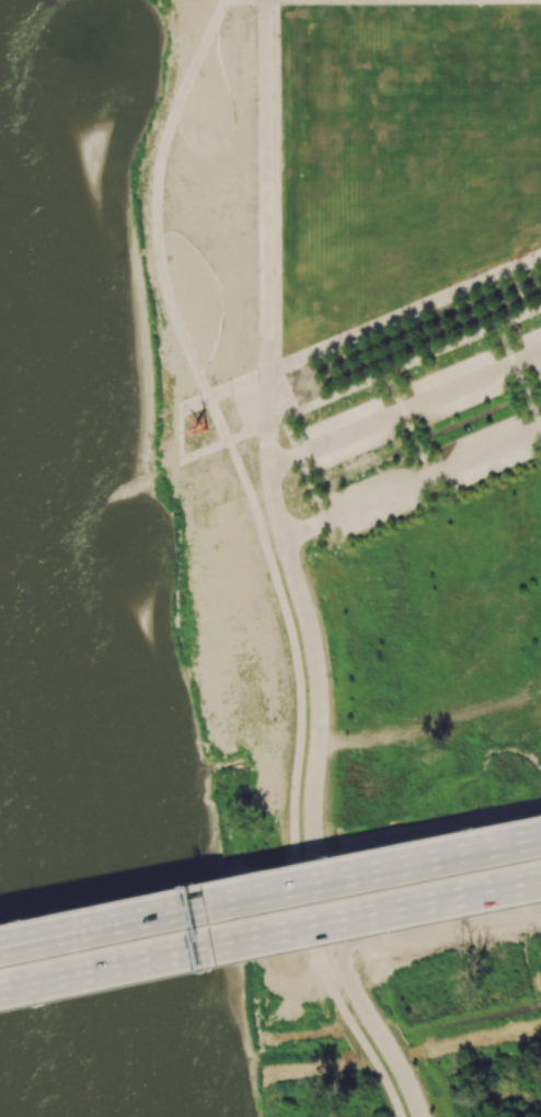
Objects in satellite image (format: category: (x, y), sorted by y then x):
street lamp: (533, 267)
street lamp: (513, 276)
park: (349, 282)
street lamp: (451, 303)
street lamp: (495, 310)
street lamp: (422, 315)
street lamp: (530, 318)
street lamp: (402, 322)
road: (375, 324)
street lamp: (507, 337)
street lamp: (362, 341)
street lamp: (469, 345)
street lamp: (341, 350)
street lamp: (384, 357)
street lamp: (308, 363)
street lamp: (419, 365)
street lamp: (525, 378)
street lamp: (396, 385)
street lamp: (357, 390)
street lamp: (231, 396)
parking lot: (424, 401)
street lamp: (537, 406)
road: (405, 408)
street lamp: (300, 415)
street lamp: (414, 426)
street lamp: (474, 428)
road: (225, 432)
street lamp: (225, 448)
street lamp: (425, 453)
street lamp: (191, 463)
street lamp: (370, 472)
parking lot: (438, 475)
road: (412, 485)
road: (292, 570)
street lamp: (202, 885)
road: (270, 893)
street lamp: (21, 921)
road: (270, 935)
street lamp: (217, 968)
street lamp: (36, 1004)

